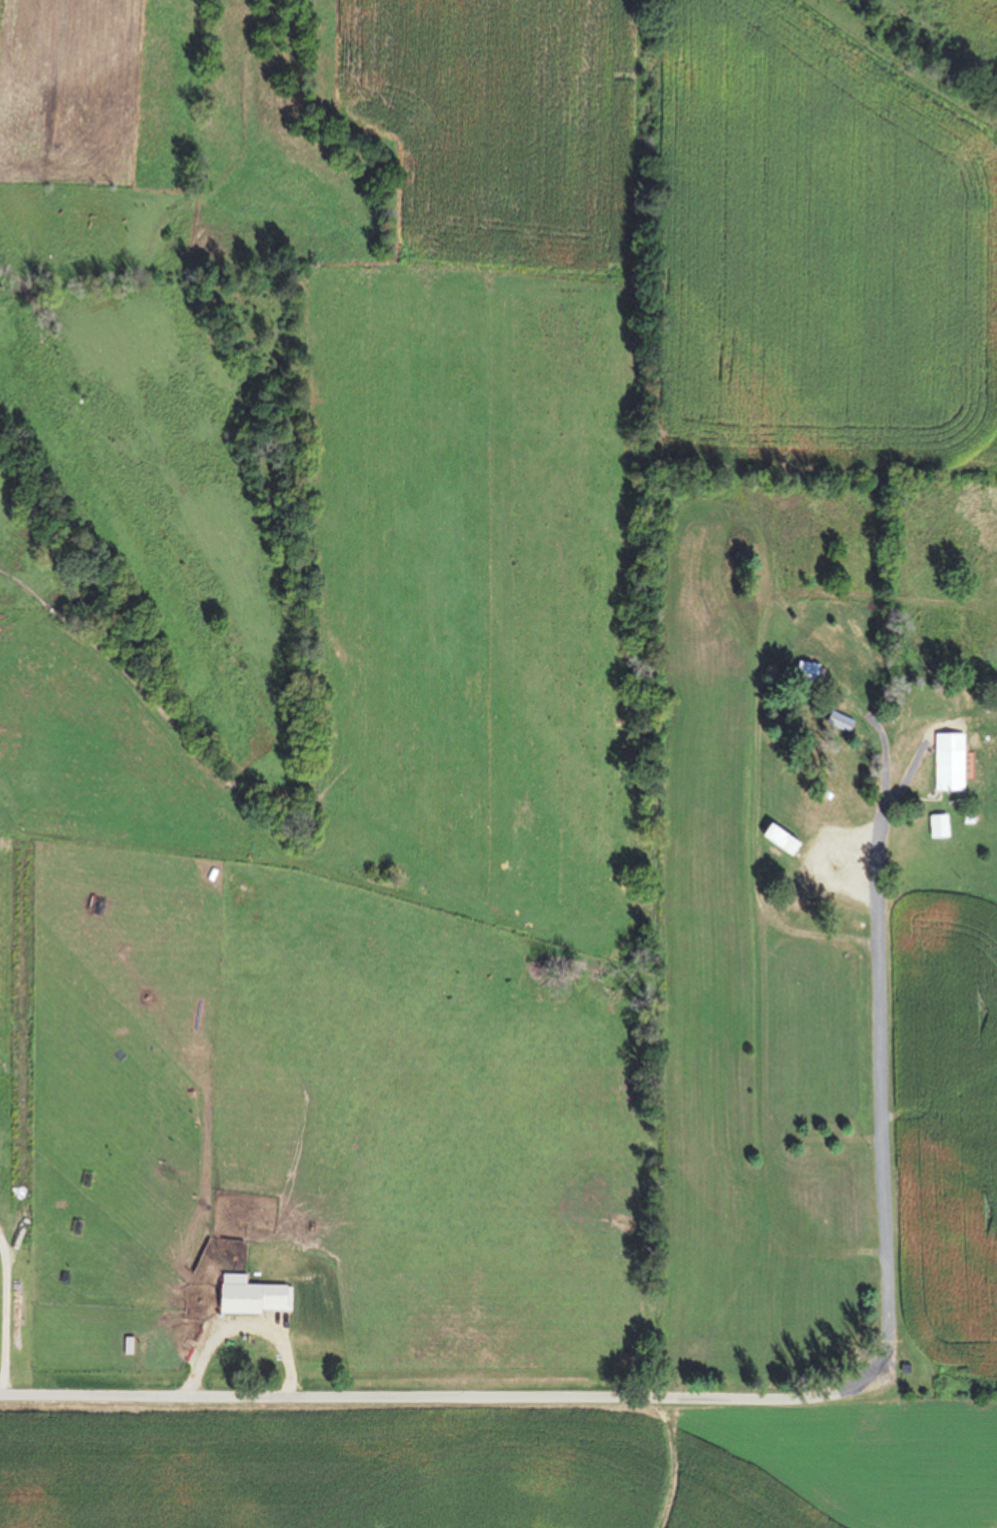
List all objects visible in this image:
building: (803, 671)
building: (835, 722)
building: (947, 762)
building: (934, 826)
building: (776, 839)
road: (882, 1101)
road: (441, 1397)

